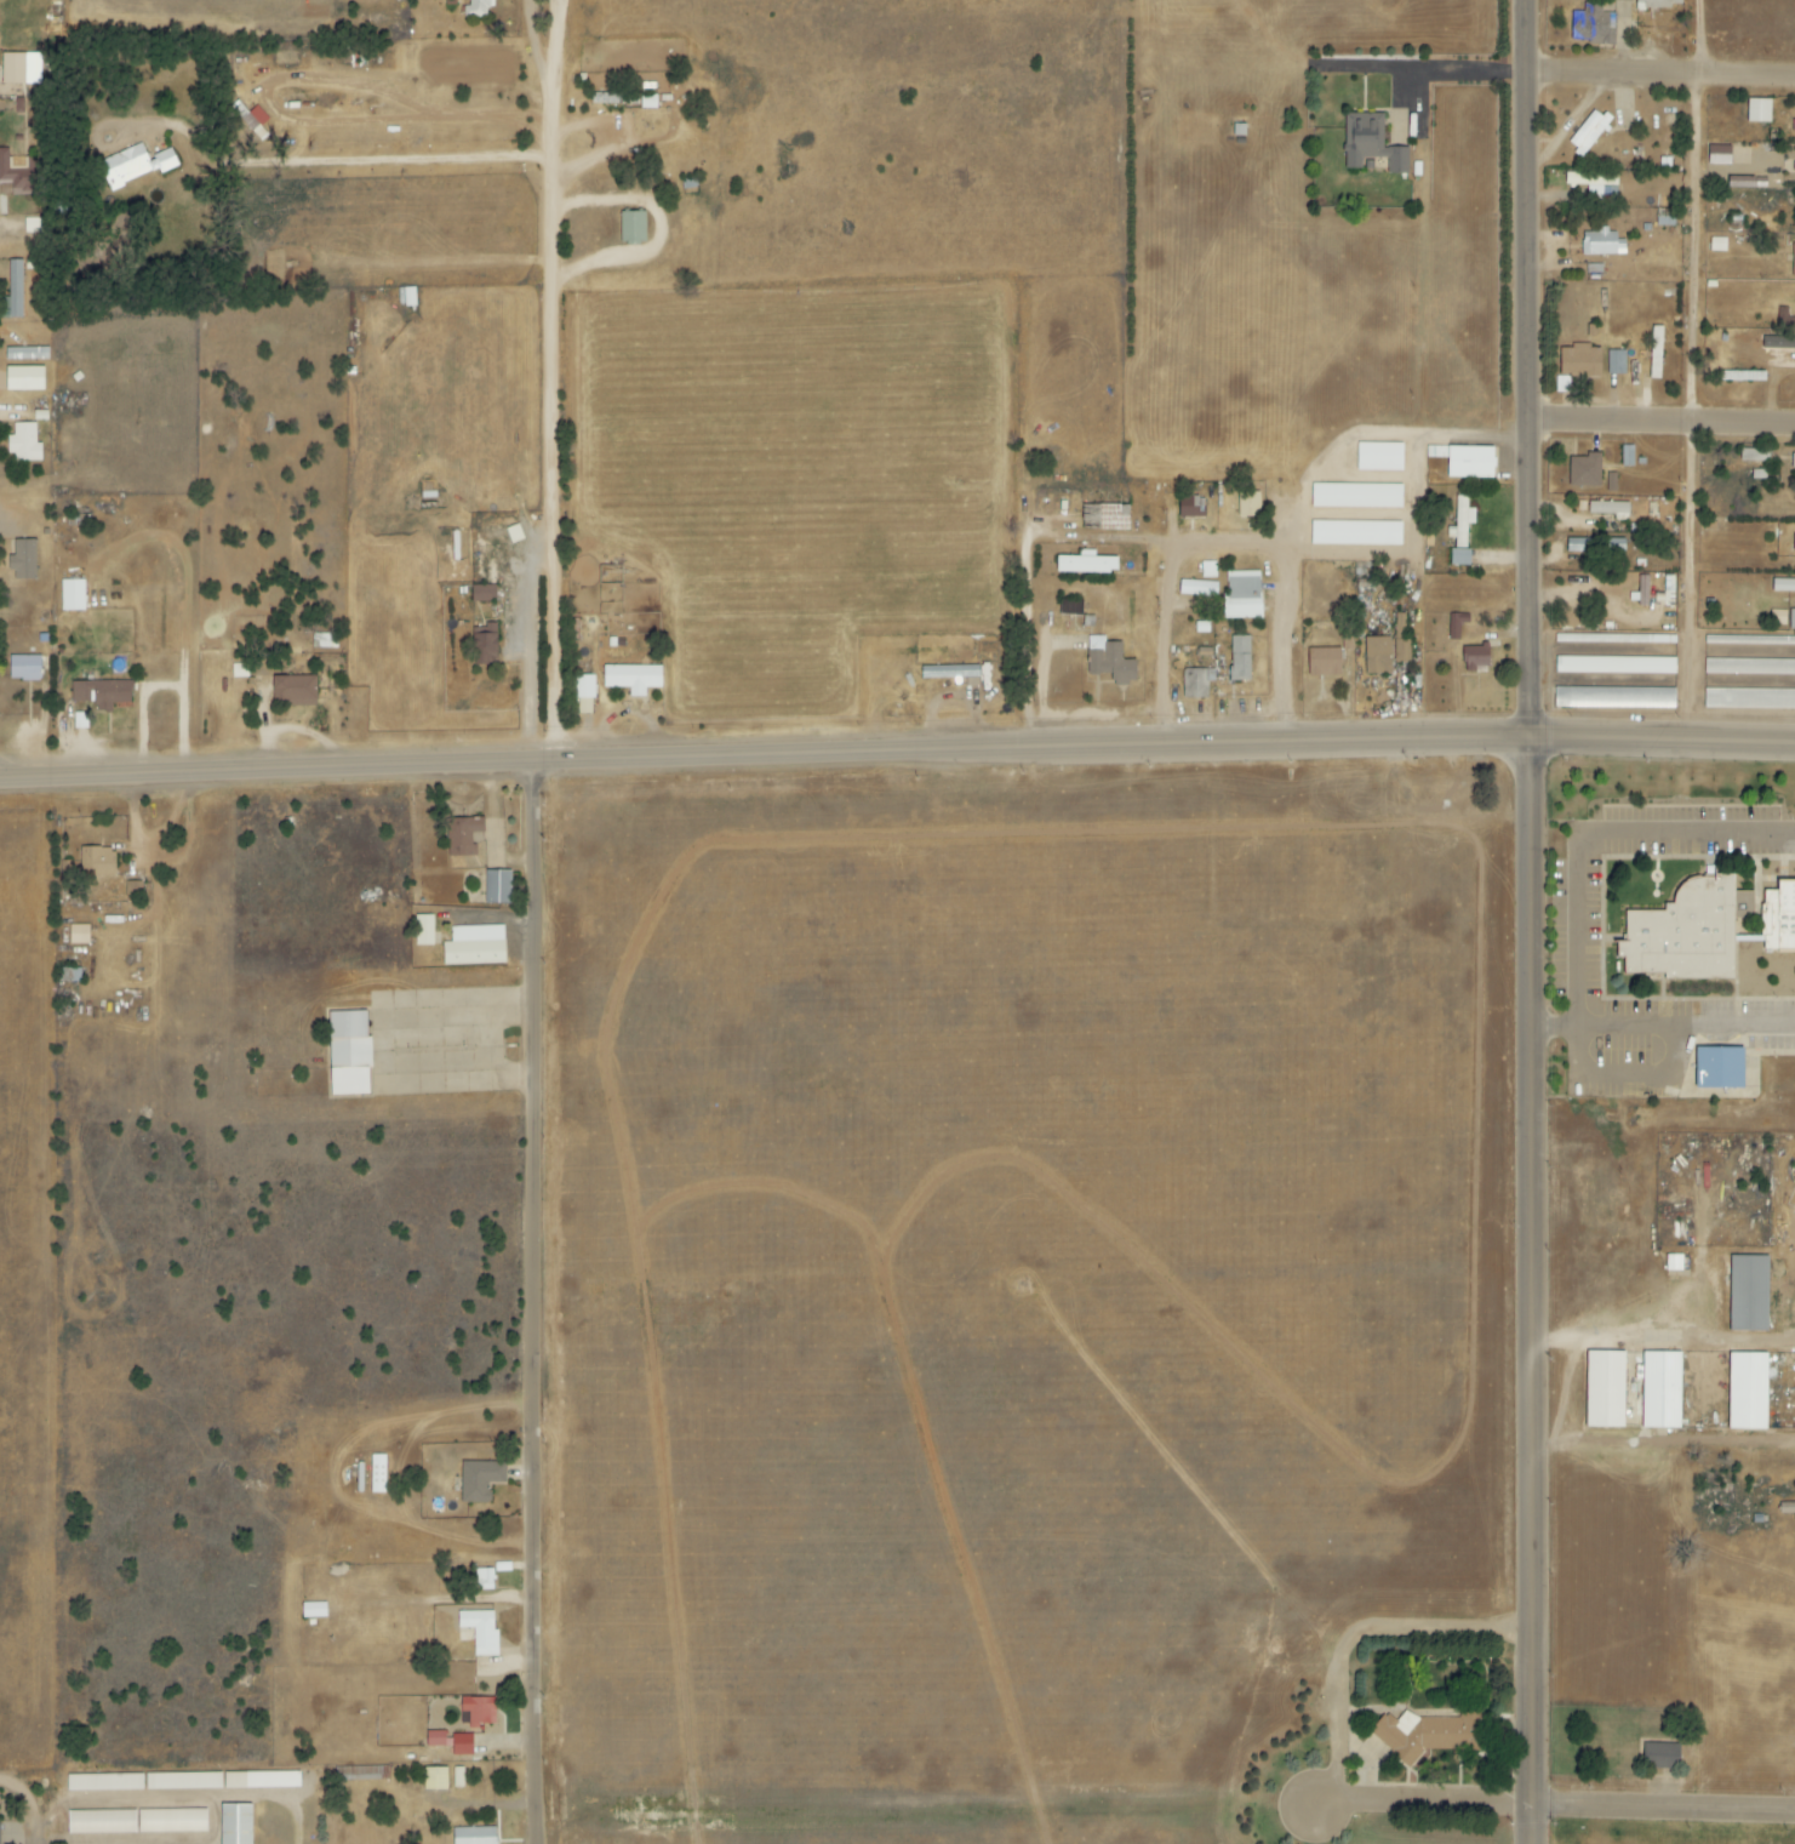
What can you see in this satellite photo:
building: (1624, 0)
building: (1658, 4)
building: (480, 6)
building: (1593, 25)
building: (19, 68)
road: (1664, 78)
road: (1433, 79)
road: (562, 95)
building: (1757, 110)
building: (1793, 126)
building: (1588, 131)
building: (1370, 143)
building: (1719, 154)
road: (381, 162)
building: (133, 165)
building: (16, 175)
building: (1748, 183)
building: (1595, 184)
building: (1794, 215)
building: (35, 225)
building: (631, 227)
road: (19, 230)
road: (671, 234)
building: (1601, 242)
building: (1793, 261)
building: (15, 289)
building: (406, 297)
building: (1579, 360)
building: (1616, 362)
road: (1536, 371)
road: (1702, 372)
building: (23, 378)
road: (1665, 424)
road: (560, 430)
building: (23, 444)
building: (1754, 455)
building: (1379, 457)
building: (1464, 461)
building: (1793, 467)
building: (1585, 470)
building: (1611, 483)
building: (1356, 496)
building: (1248, 504)
building: (1190, 507)
building: (1610, 509)
building: (1113, 518)
building: (1460, 523)
building: (1355, 533)
road: (1058, 536)
building: (1595, 546)
building: (1459, 556)
building: (22, 559)
building: (1085, 565)
building: (1208, 570)
building: (1783, 586)
building: (1197, 589)
building: (1642, 590)
building: (482, 593)
building: (72, 595)
building: (1241, 596)
building: (1069, 606)
building: (1791, 620)
building: (1456, 626)
building: (1401, 638)
building: (1347, 639)
building: (324, 641)
building: (482, 646)
road: (1173, 646)
road: (1292, 647)
building: (1377, 655)
building: (1239, 658)
building: (1475, 658)
building: (1109, 661)
building: (1322, 662)
building: (1623, 666)
building: (23, 668)
building: (949, 672)
building: (631, 679)
road: (539, 681)
building: (1196, 683)
building: (583, 687)
building: (292, 691)
building: (1614, 697)
building: (1767, 698)
road: (1531, 742)
road: (634, 763)
building: (463, 837)
building: (97, 862)
road: (1595, 867)
building: (496, 887)
building: (133, 891)
building: (1779, 918)
building: (423, 931)
building: (1687, 932)
building: (78, 935)
building: (474, 947)
building: (347, 1054)
building: (1717, 1069)
building: (1674, 1262)
road: (1527, 1292)
building: (1748, 1294)
road: (539, 1304)
road: (1660, 1346)
building: (1604, 1389)
building: (1660, 1389)
building: (1747, 1391)
road: (1662, 1445)
building: (377, 1473)
building: (479, 1479)
building: (481, 1578)
building: (313, 1610)
building: (480, 1631)
road: (1362, 1635)
building: (478, 1711)
building: (1427, 1734)
building: (450, 1741)
building: (1660, 1755)
building: (361, 1772)
building: (261, 1779)
building: (434, 1779)
building: (184, 1780)
building: (102, 1781)
road: (28, 1796)
road: (1550, 1805)
building: (171, 1820)
road: (222, 1820)
building: (99, 1821)
building: (234, 1823)
road: (46, 1832)
building: (473, 1836)
road: (133, 1843)

